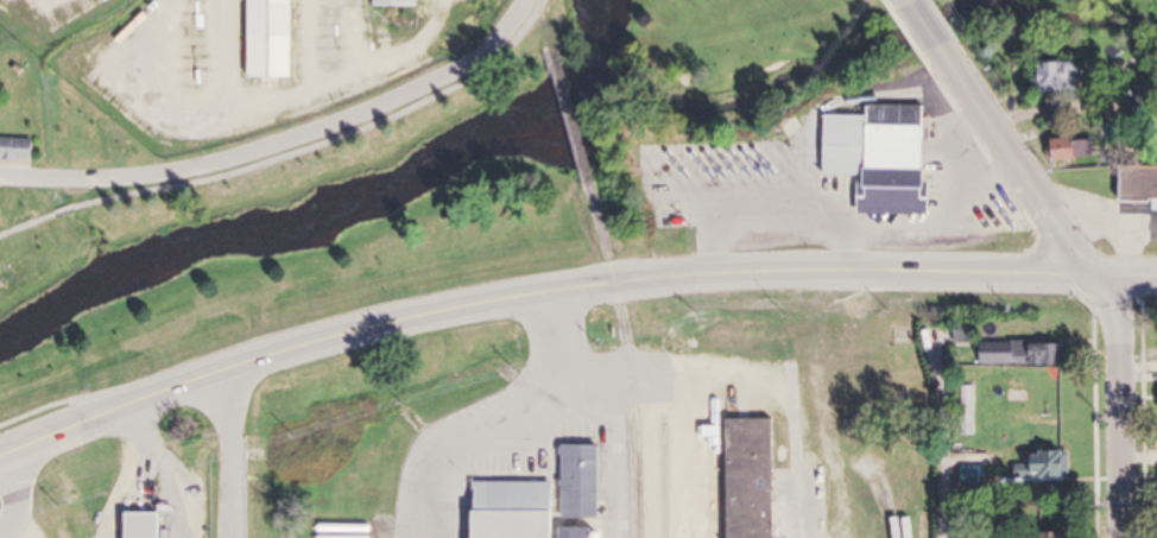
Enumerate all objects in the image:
road: (911, 1)
building: (400, 2)
park: (1064, 19)
railway: (546, 24)
road: (925, 24)
building: (277, 39)
river: (596, 45)
building: (182, 76)
building: (1063, 76)
railway: (571, 114)
road: (284, 141)
building: (1075, 147)
building: (19, 148)
road: (291, 153)
building: (886, 157)
park: (217, 158)
road: (1018, 160)
building: (1143, 183)
river: (296, 238)
road: (575, 287)
building: (1024, 353)
railway: (630, 357)
road: (747, 373)
road: (1120, 404)
road: (492, 407)
road: (937, 435)
road: (8, 451)
road: (235, 452)
road: (694, 454)
building: (1051, 464)
building: (979, 477)
building: (757, 479)
railway: (676, 481)
road: (18, 495)
building: (550, 501)
building: (145, 525)
building: (1068, 534)

